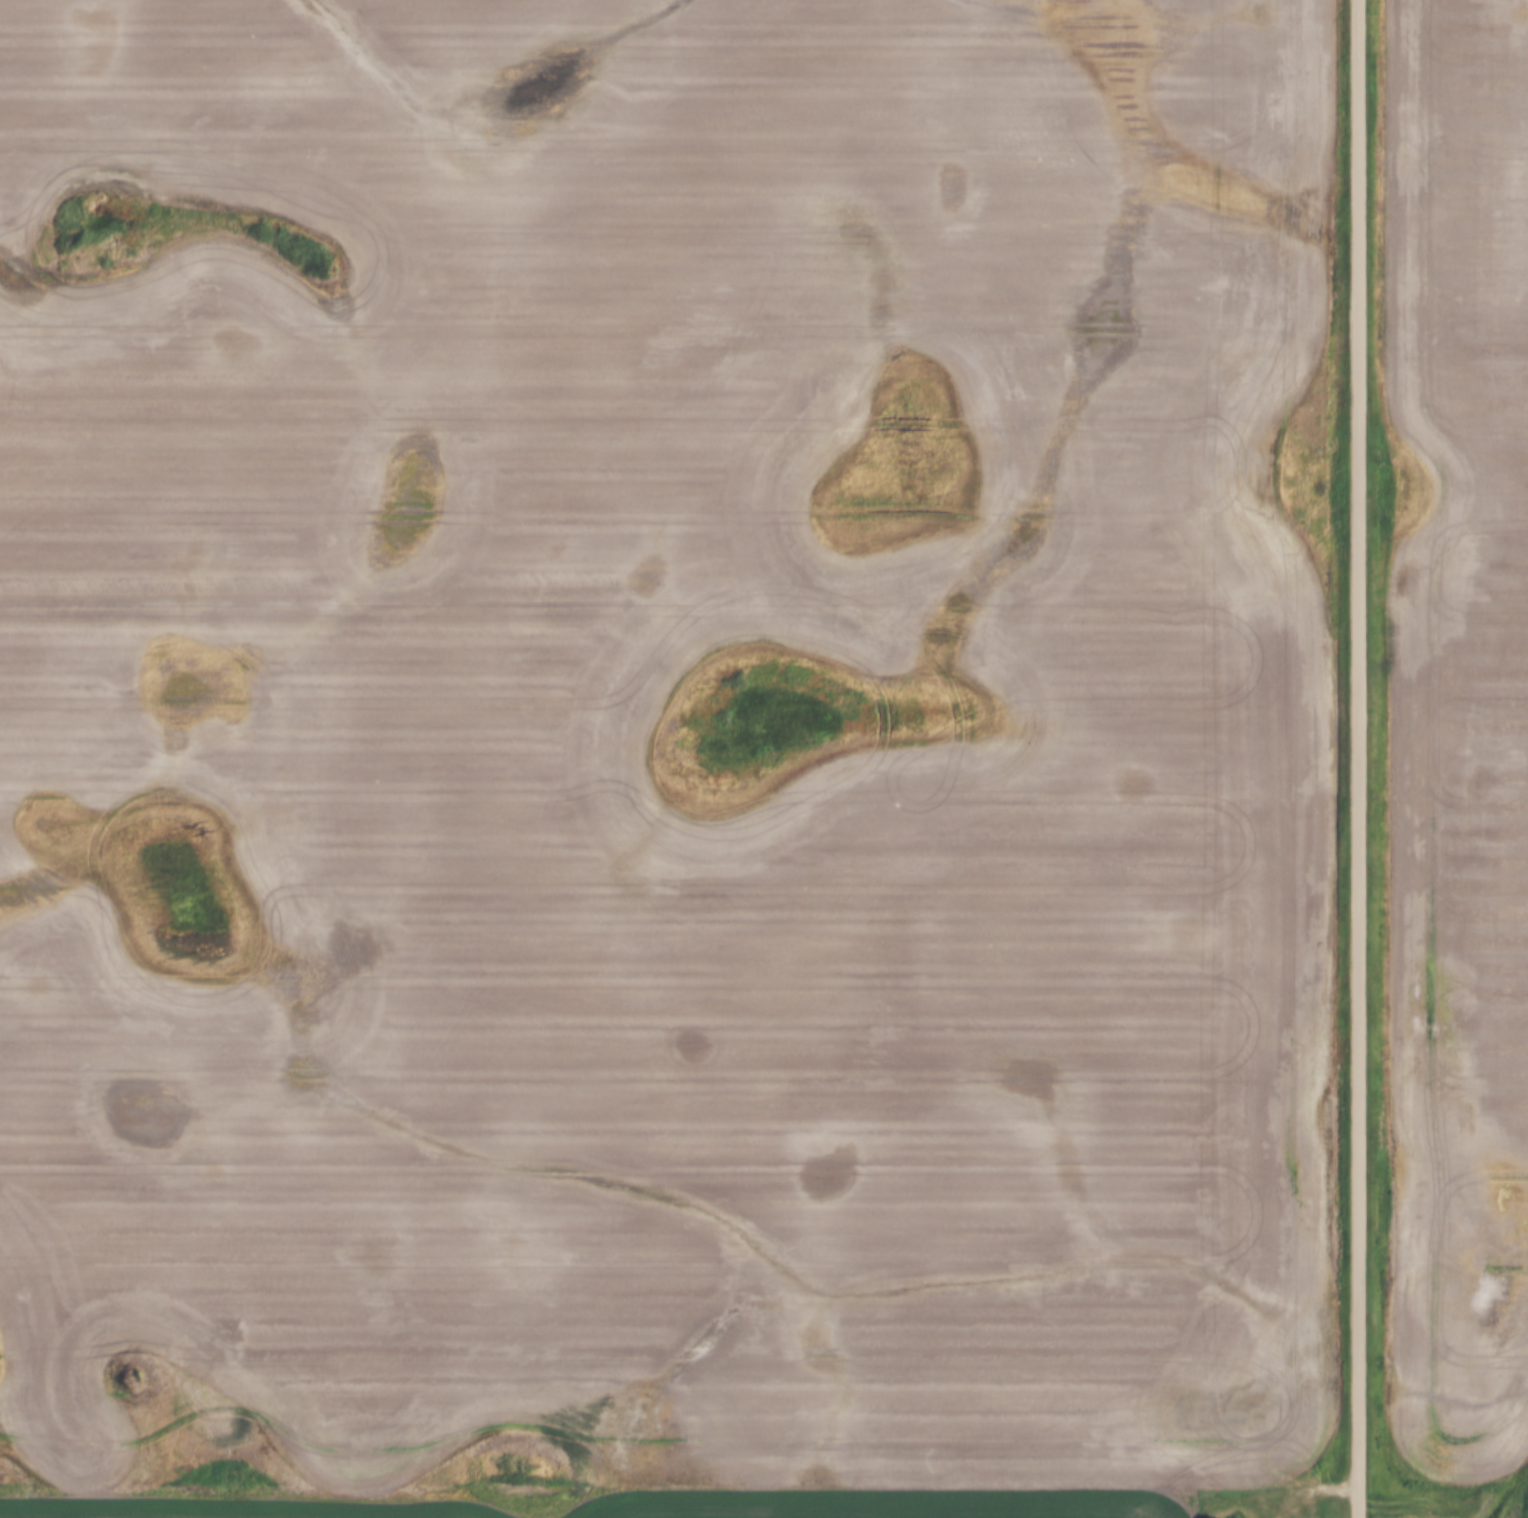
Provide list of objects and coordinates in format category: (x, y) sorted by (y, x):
road: (1357, 758)

